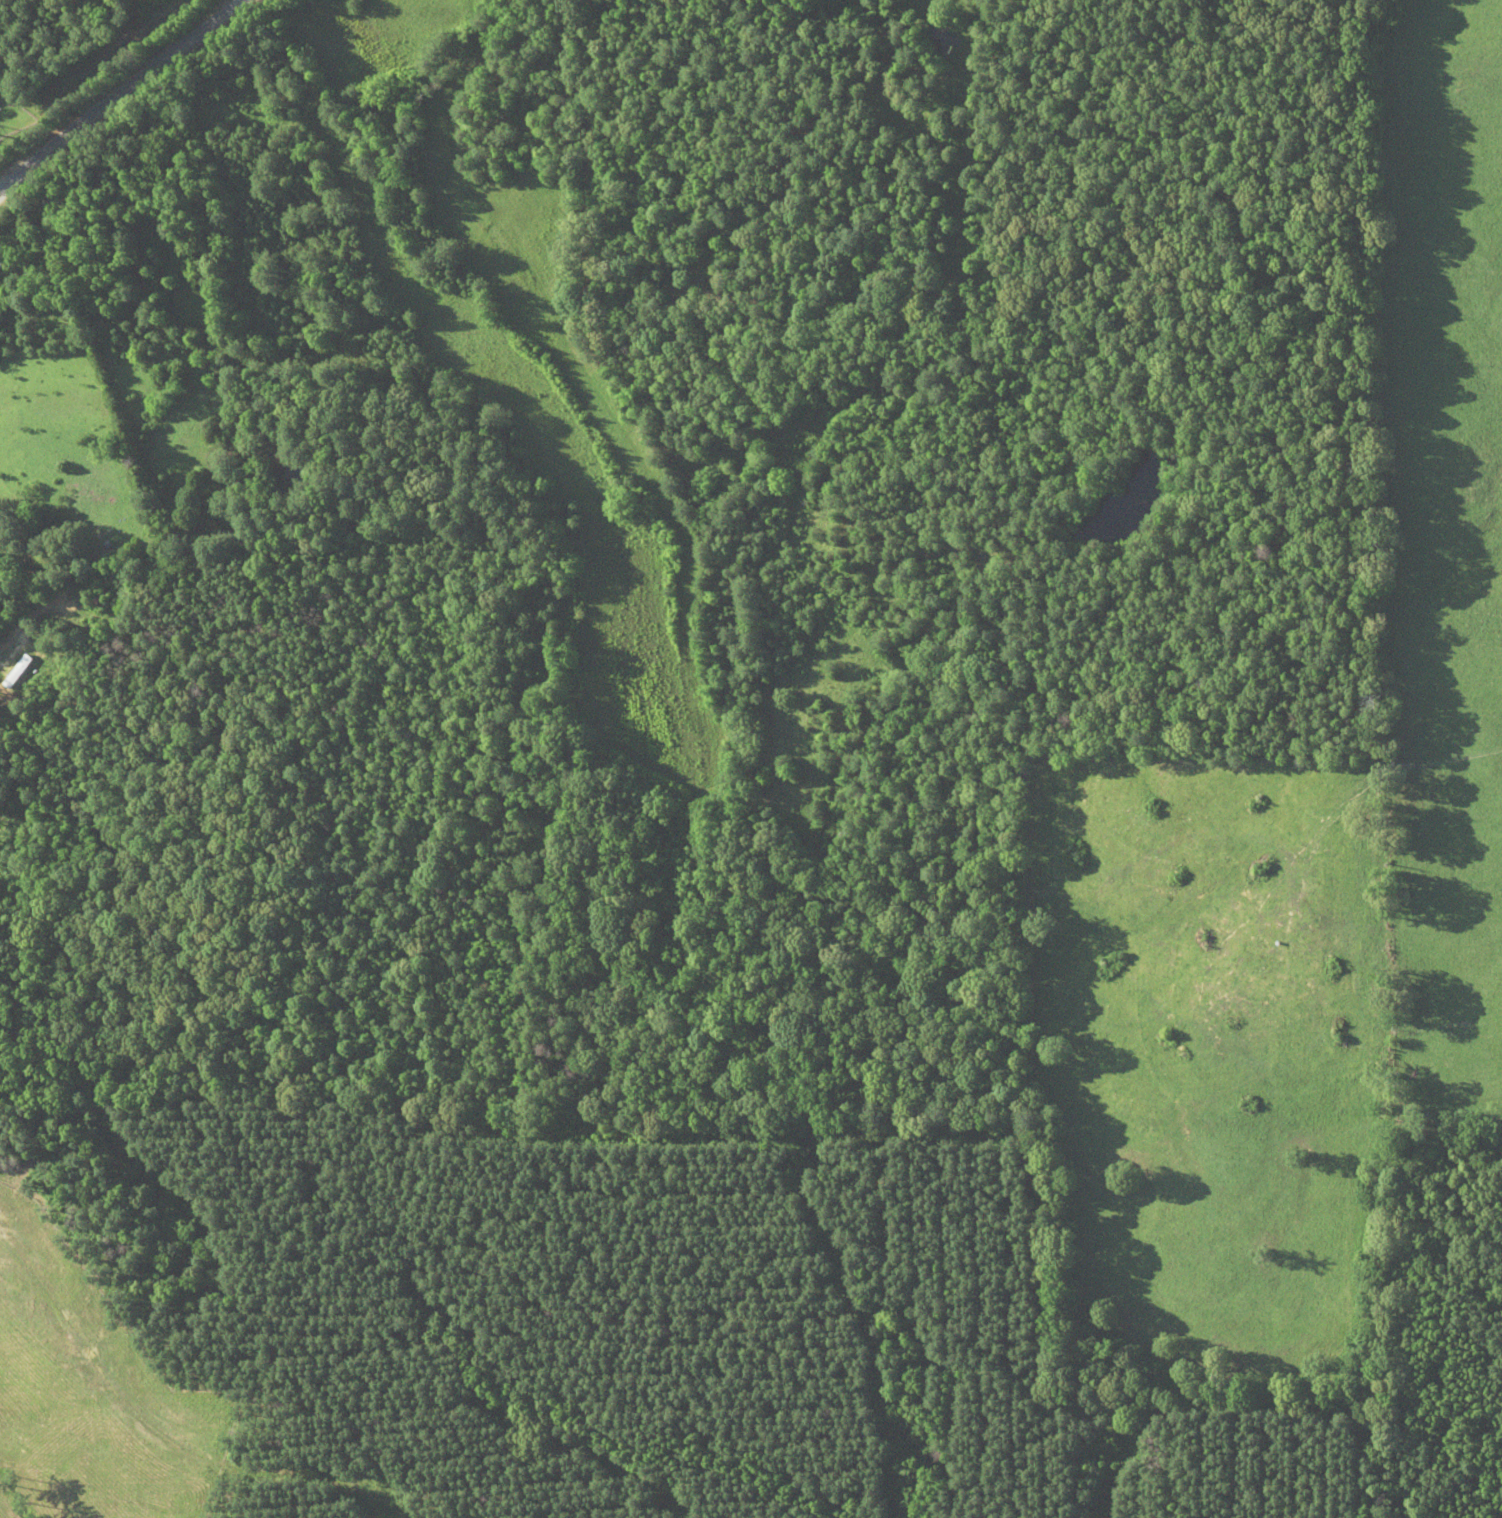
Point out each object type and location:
road: (111, 89)
building: (99, 599)
building: (22, 670)
road: (373, 1234)

